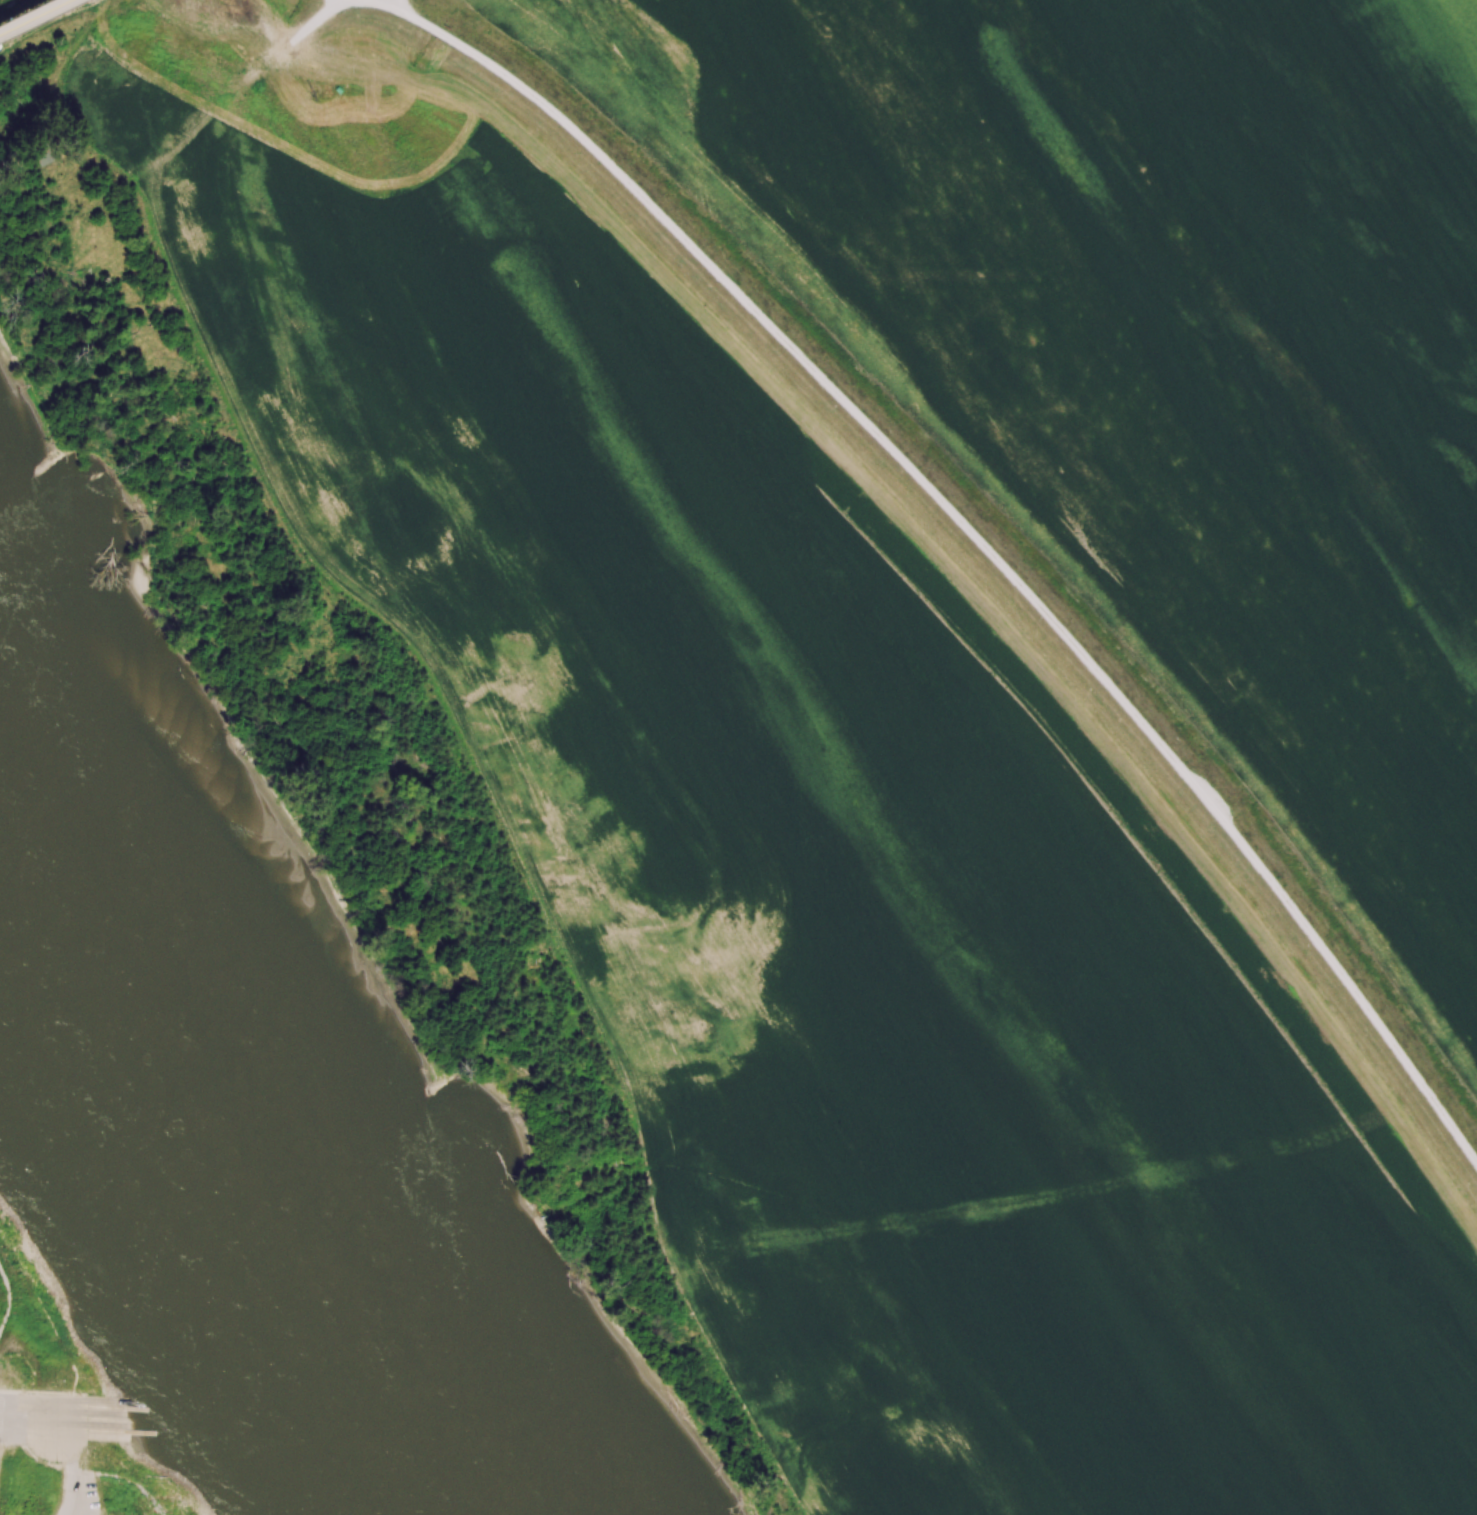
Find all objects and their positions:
road: (30, 15)
road: (303, 31)
road: (112, 170)
road: (972, 530)
crop: (835, 883)
river: (224, 1134)
park: (152, 1271)
road: (7, 1300)
road: (39, 1303)
building: (9, 1368)
pier: (109, 1407)
road: (32, 1457)
road: (70, 1469)
road: (122, 1481)
parking lot: (81, 1497)

